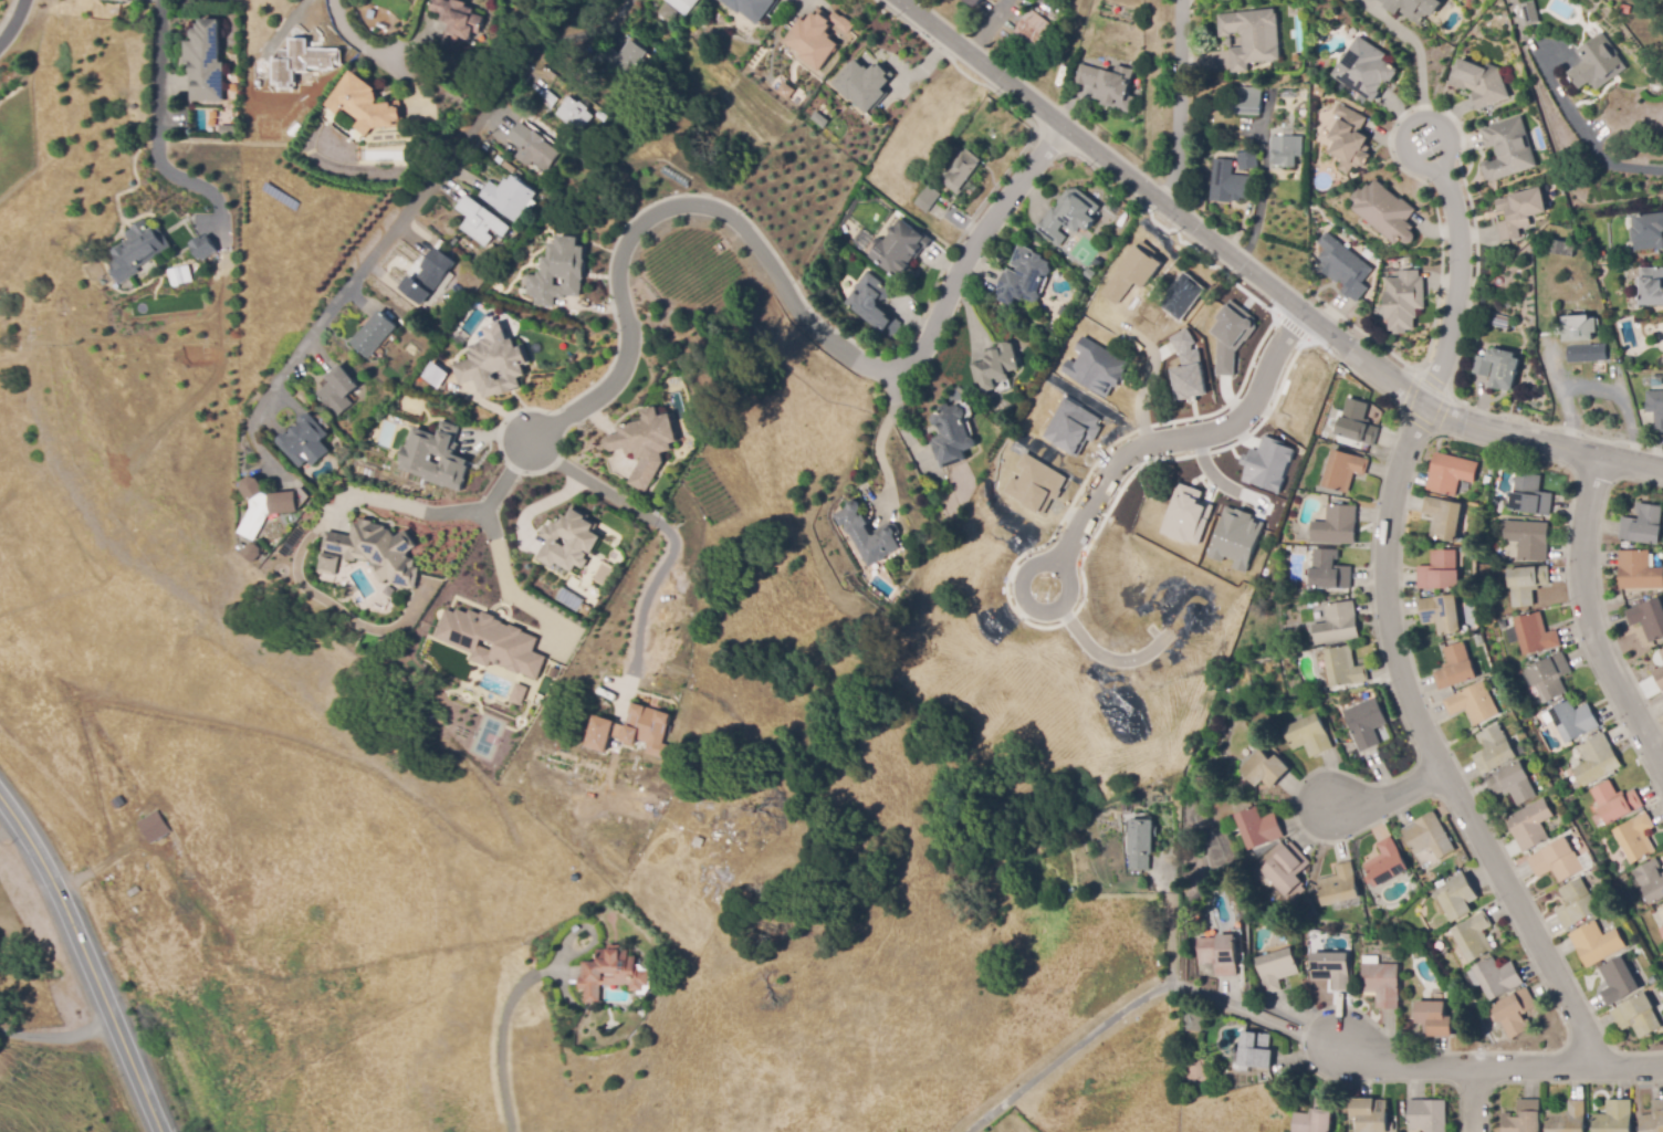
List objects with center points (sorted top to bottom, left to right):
building: (124, 0)
building: (974, 2)
building: (686, 6)
building: (751, 7)
building: (1415, 9)
building: (1627, 10)
building: (1529, 11)
building: (667, 13)
building: (457, 22)
road: (15, 24)
building: (1034, 29)
building: (816, 35)
building: (1252, 36)
road: (346, 40)
road: (1416, 48)
building: (203, 59)
building: (624, 59)
building: (290, 62)
building: (646, 63)
building: (1598, 64)
building: (1366, 72)
building: (1478, 82)
building: (864, 84)
building: (1109, 86)
building: (1068, 88)
building: (785, 90)
building: (548, 99)
building: (1247, 101)
building: (365, 103)
road: (1176, 103)
building: (574, 115)
building: (229, 130)
building: (592, 135)
building: (136, 138)
road: (157, 138)
building: (1352, 141)
building: (533, 147)
building: (484, 148)
building: (1507, 149)
building: (1233, 150)
building: (1286, 150)
building: (491, 151)
building: (571, 154)
building: (499, 159)
road: (1604, 159)
building: (1247, 160)
building: (508, 167)
road: (1424, 168)
building: (962, 169)
building: (561, 176)
building: (1228, 187)
building: (508, 198)
building: (924, 201)
building: (1523, 211)
building: (1387, 214)
building: (1068, 216)
road: (400, 218)
building: (480, 222)
building: (1648, 232)
building: (495, 241)
building: (200, 247)
building: (1559, 248)
building: (135, 249)
building: (899, 249)
building: (1141, 264)
building: (558, 269)
building: (1345, 270)
building: (1089, 273)
building: (179, 274)
building: (429, 276)
building: (1024, 276)
road: (1259, 277)
road: (775, 279)
road: (1456, 285)
building: (1651, 286)
building: (1117, 287)
building: (1182, 297)
building: (1147, 298)
building: (872, 302)
building: (1404, 303)
building: (1502, 321)
building: (1578, 328)
building: (374, 335)
building: (1230, 336)
building: (1587, 353)
building: (1503, 365)
building: (1600, 365)
building: (493, 367)
building: (995, 367)
building: (1094, 367)
building: (1186, 367)
building: (433, 374)
building: (338, 391)
building: (1656, 408)
building: (1358, 423)
building: (1073, 427)
road: (878, 434)
building: (951, 436)
road: (1181, 438)
building: (646, 440)
building: (305, 442)
building: (438, 454)
building: (1267, 464)
building: (1343, 470)
building: (1451, 473)
road: (588, 480)
building: (1487, 480)
building: (1035, 484)
building: (1530, 495)
building: (1497, 503)
building: (268, 506)
road: (456, 513)
building: (1185, 515)
building: (1444, 518)
building: (1643, 525)
building: (1337, 526)
building: (868, 533)
building: (1235, 538)
building: (1528, 539)
building: (569, 541)
building: (241, 547)
building: (375, 552)
building: (253, 553)
building: (326, 566)
road: (1061, 567)
road: (502, 568)
building: (1330, 570)
building: (1440, 572)
building: (1639, 572)
building: (1266, 573)
building: (1526, 584)
road: (646, 596)
building: (1442, 614)
road: (1592, 615)
building: (1649, 619)
building: (1338, 625)
building: (1536, 635)
building: (491, 640)
building: (1479, 640)
building: (1662, 653)
building: (1345, 668)
building: (1456, 668)
building: (1660, 677)
building: (1550, 678)
building: (1243, 683)
building: (1322, 690)
building: (516, 694)
building: (1474, 704)
building: (1235, 705)
building: (1225, 709)
building: (1575, 720)
building: (1366, 723)
building: (632, 734)
building: (1309, 736)
road: (1435, 747)
building: (1273, 750)
building: (1495, 751)
building: (1521, 751)
building: (1597, 761)
building: (1265, 769)
building: (1514, 784)
road: (1397, 796)
building: (1615, 801)
building: (1136, 804)
building: (1531, 825)
building: (153, 826)
building: (1258, 828)
building: (1429, 837)
building: (1636, 838)
building: (1141, 843)
building: (1557, 861)
building: (1262, 863)
building: (1387, 863)
building: (1287, 869)
building: (1368, 880)
building: (1623, 881)
building: (1651, 881)
building: (1440, 884)
building: (1339, 885)
building: (1458, 898)
building: (1577, 903)
building: (1662, 904)
road: (1174, 920)
building: (1661, 931)
building: (1474, 936)
building: (1597, 943)
building: (1219, 954)
building: (1370, 960)
road: (87, 962)
building: (1161, 965)
building: (1277, 969)
building: (1331, 969)
building: (611, 973)
building: (1497, 977)
building: (1619, 981)
building: (1382, 984)
road: (1128, 1008)
building: (1194, 1010)
building: (1515, 1013)
building: (1638, 1016)
building: (1434, 1019)
road: (505, 1025)
road: (56, 1036)
building: (1256, 1051)
road: (1482, 1067)
road: (1478, 1100)
building: (1370, 1114)
building: (1427, 1115)
building: (1614, 1117)
building: (1315, 1118)
building: (1524, 1118)
building: (1568, 1118)
building: (1652, 1119)
building: (1391, 1126)

